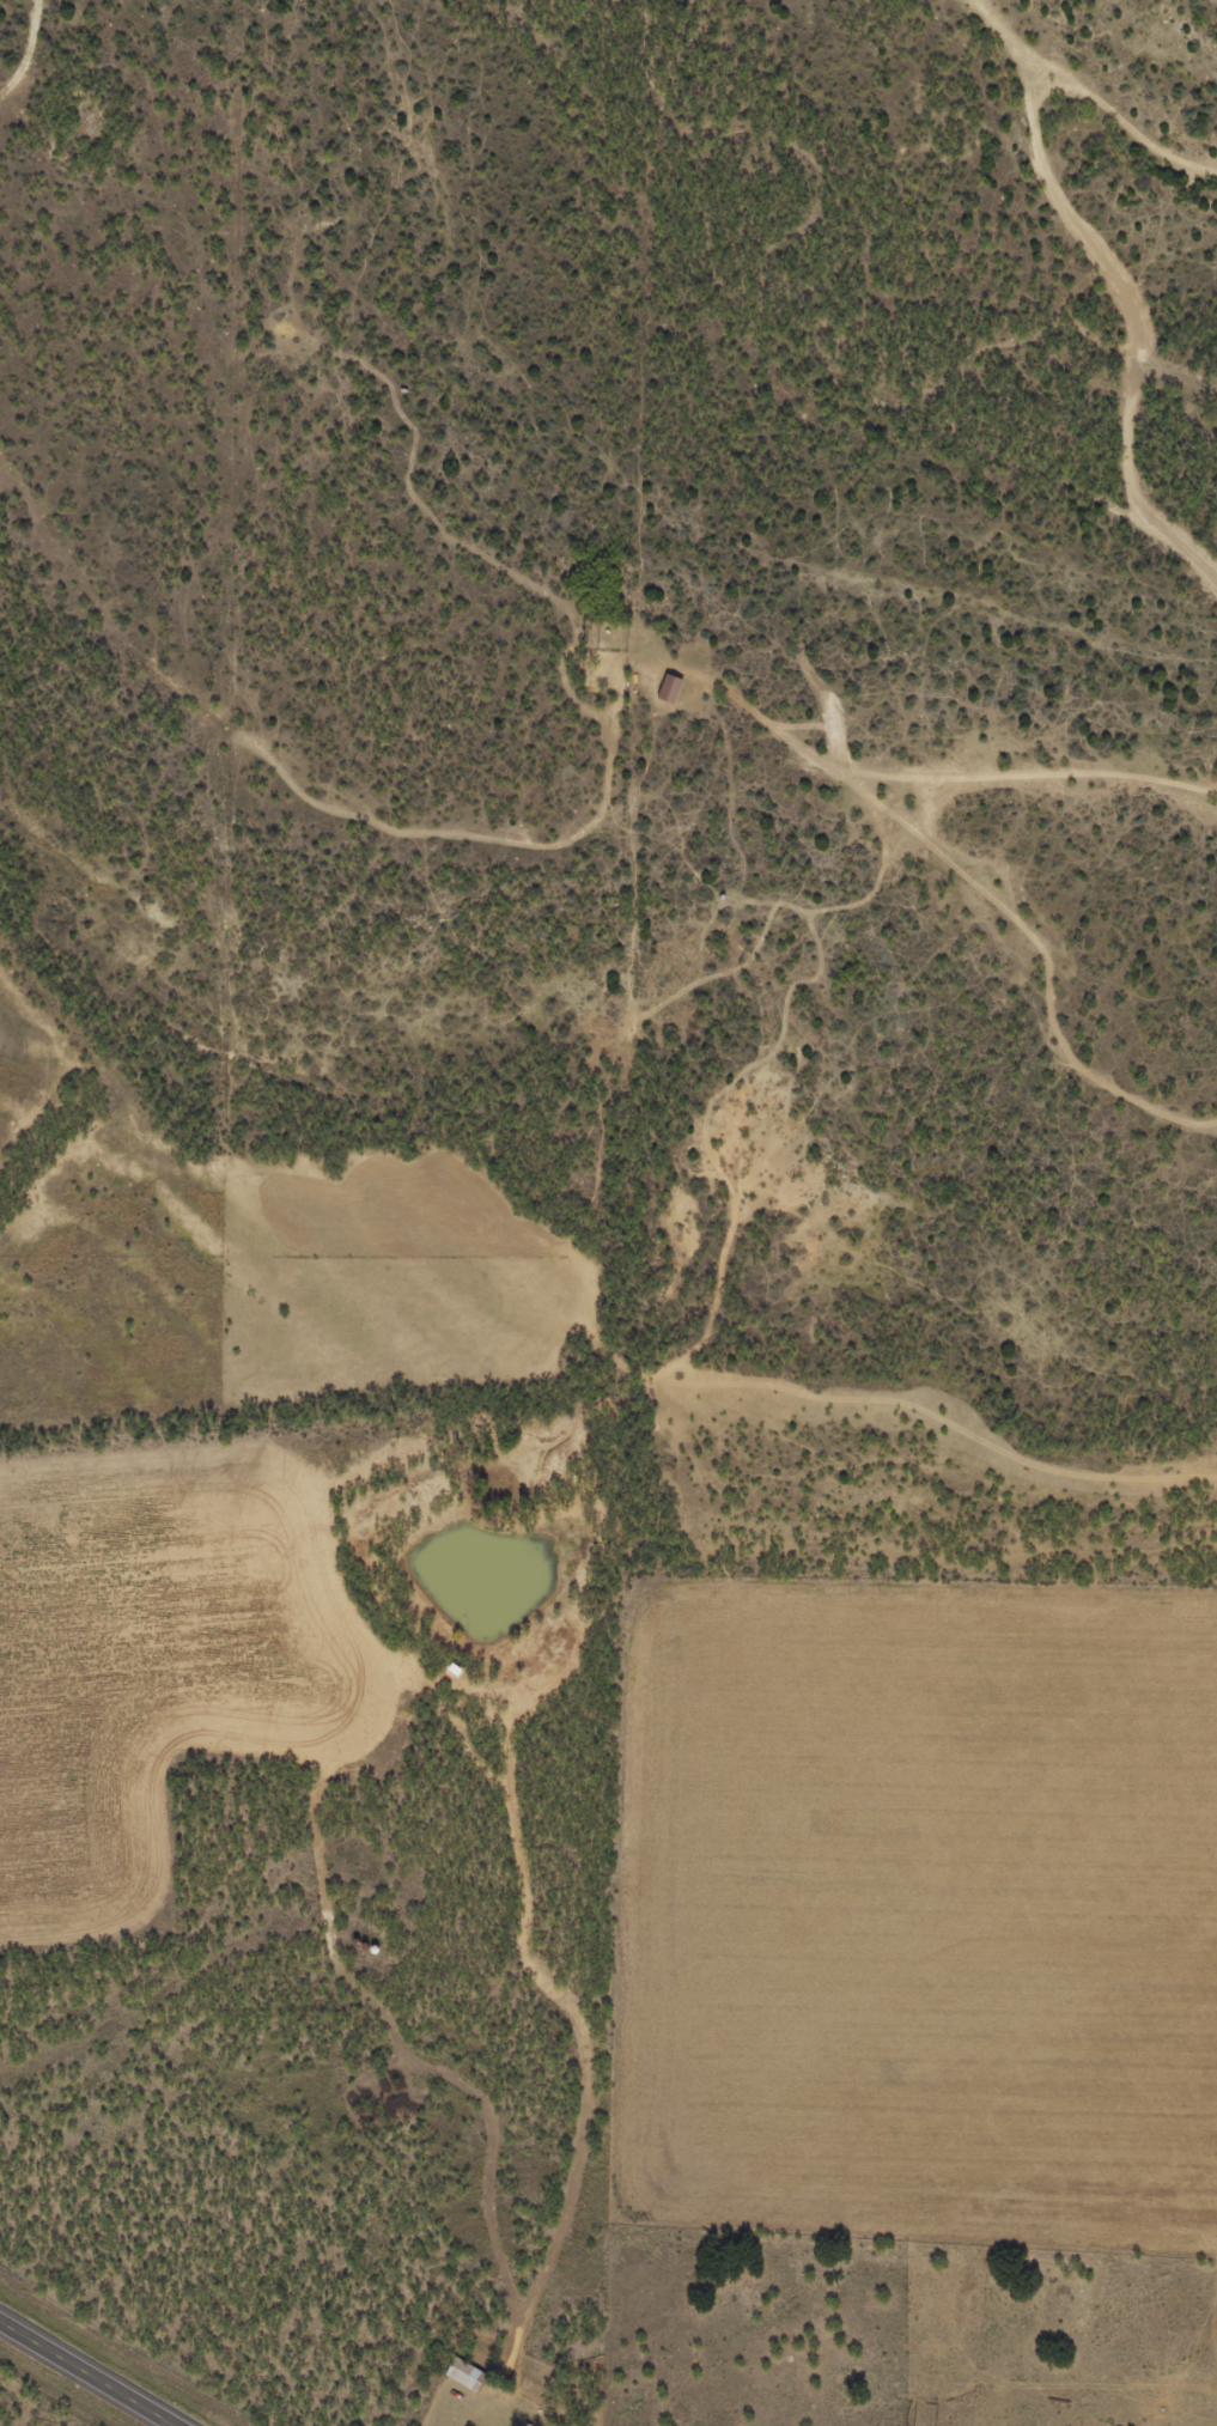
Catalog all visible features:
road: (18, 42)
road: (84, 2376)
building: (470, 2376)

